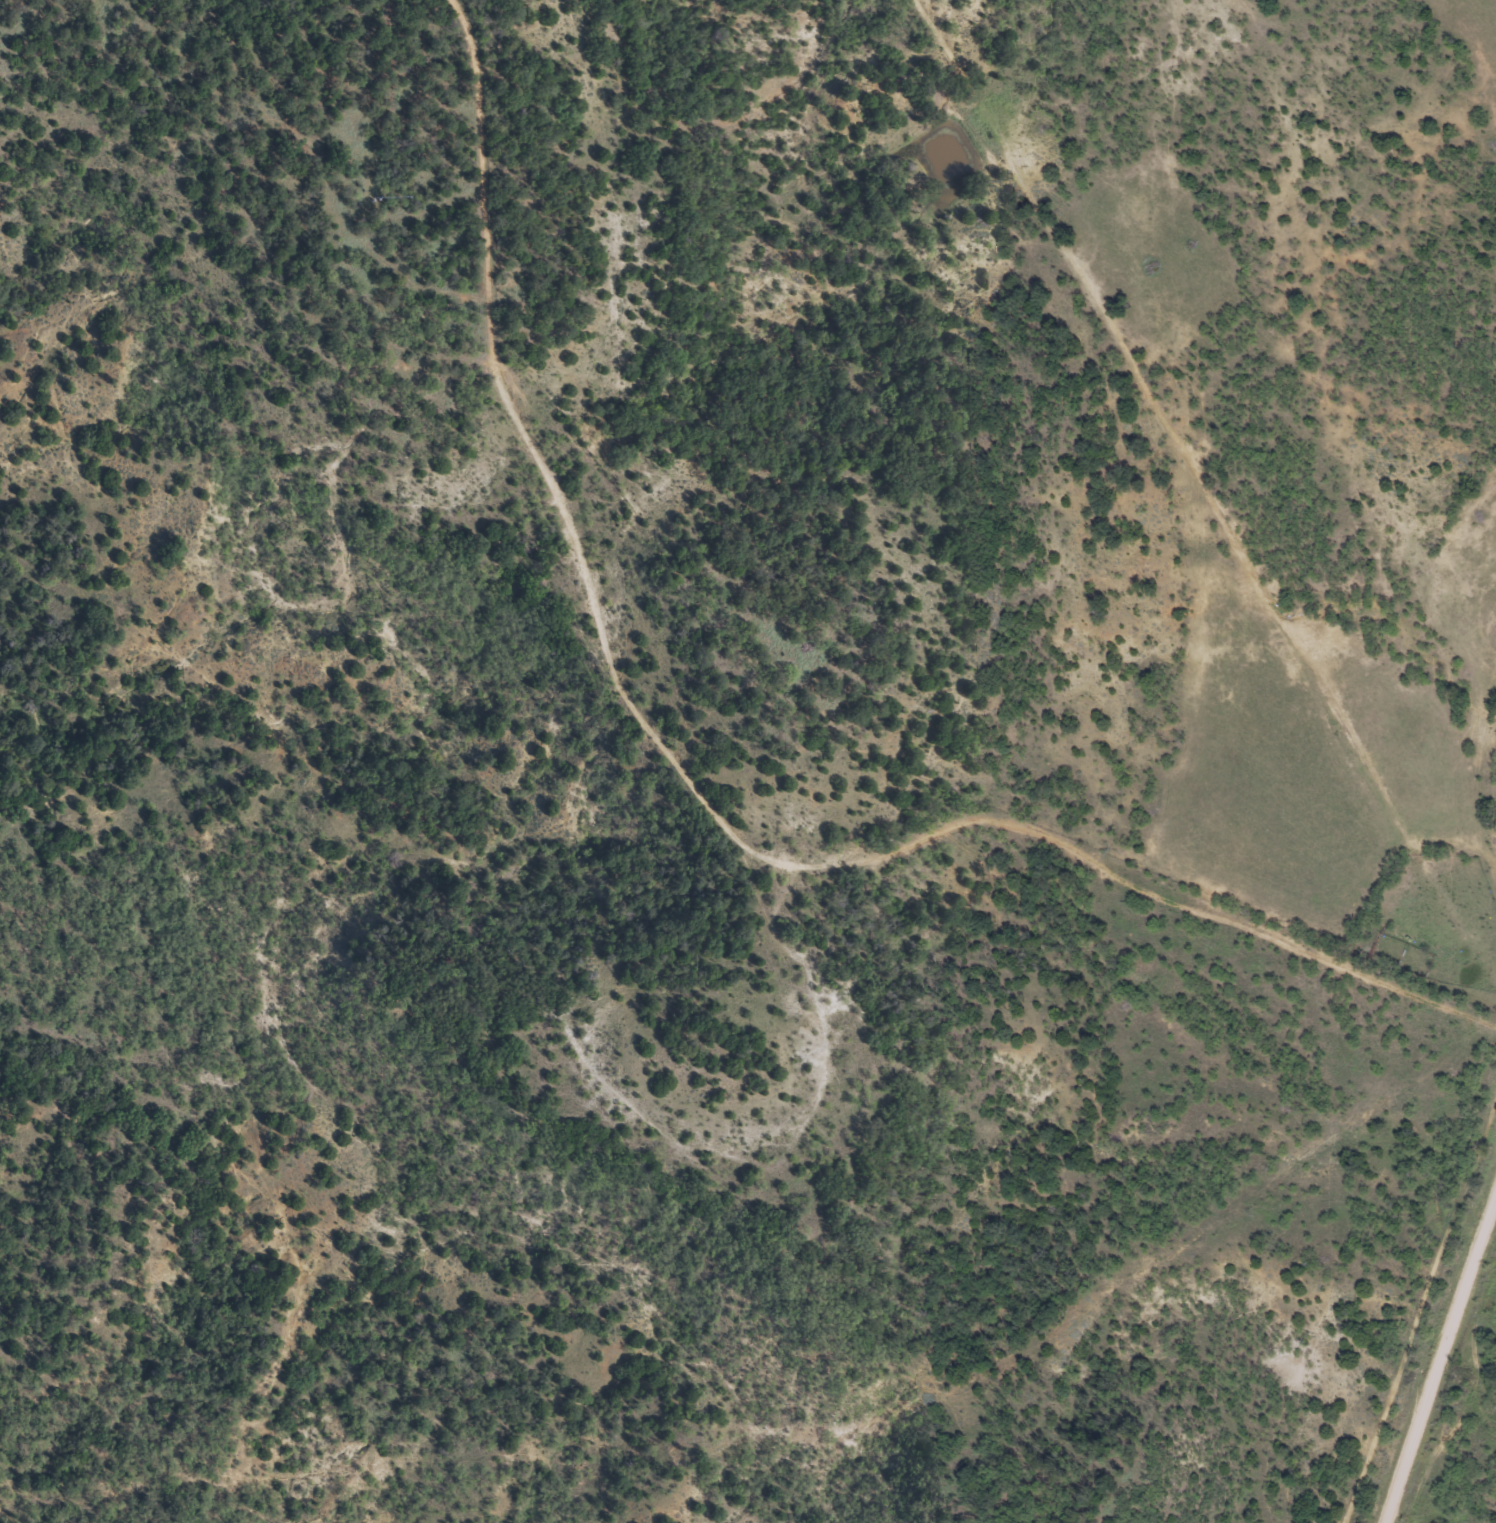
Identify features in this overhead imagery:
road: (1203, 485)
road: (709, 800)
road: (1441, 1369)

